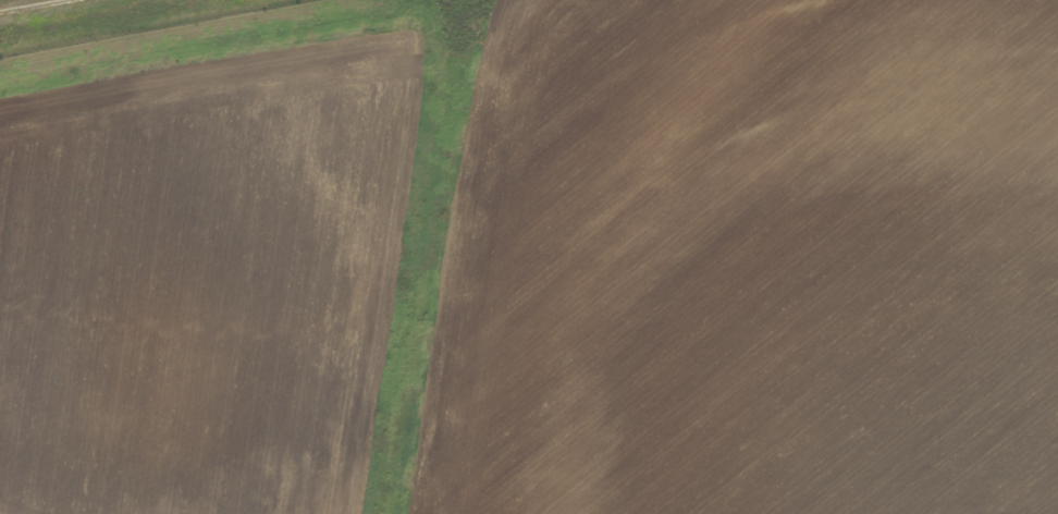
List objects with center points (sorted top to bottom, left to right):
road: (22, 3)

